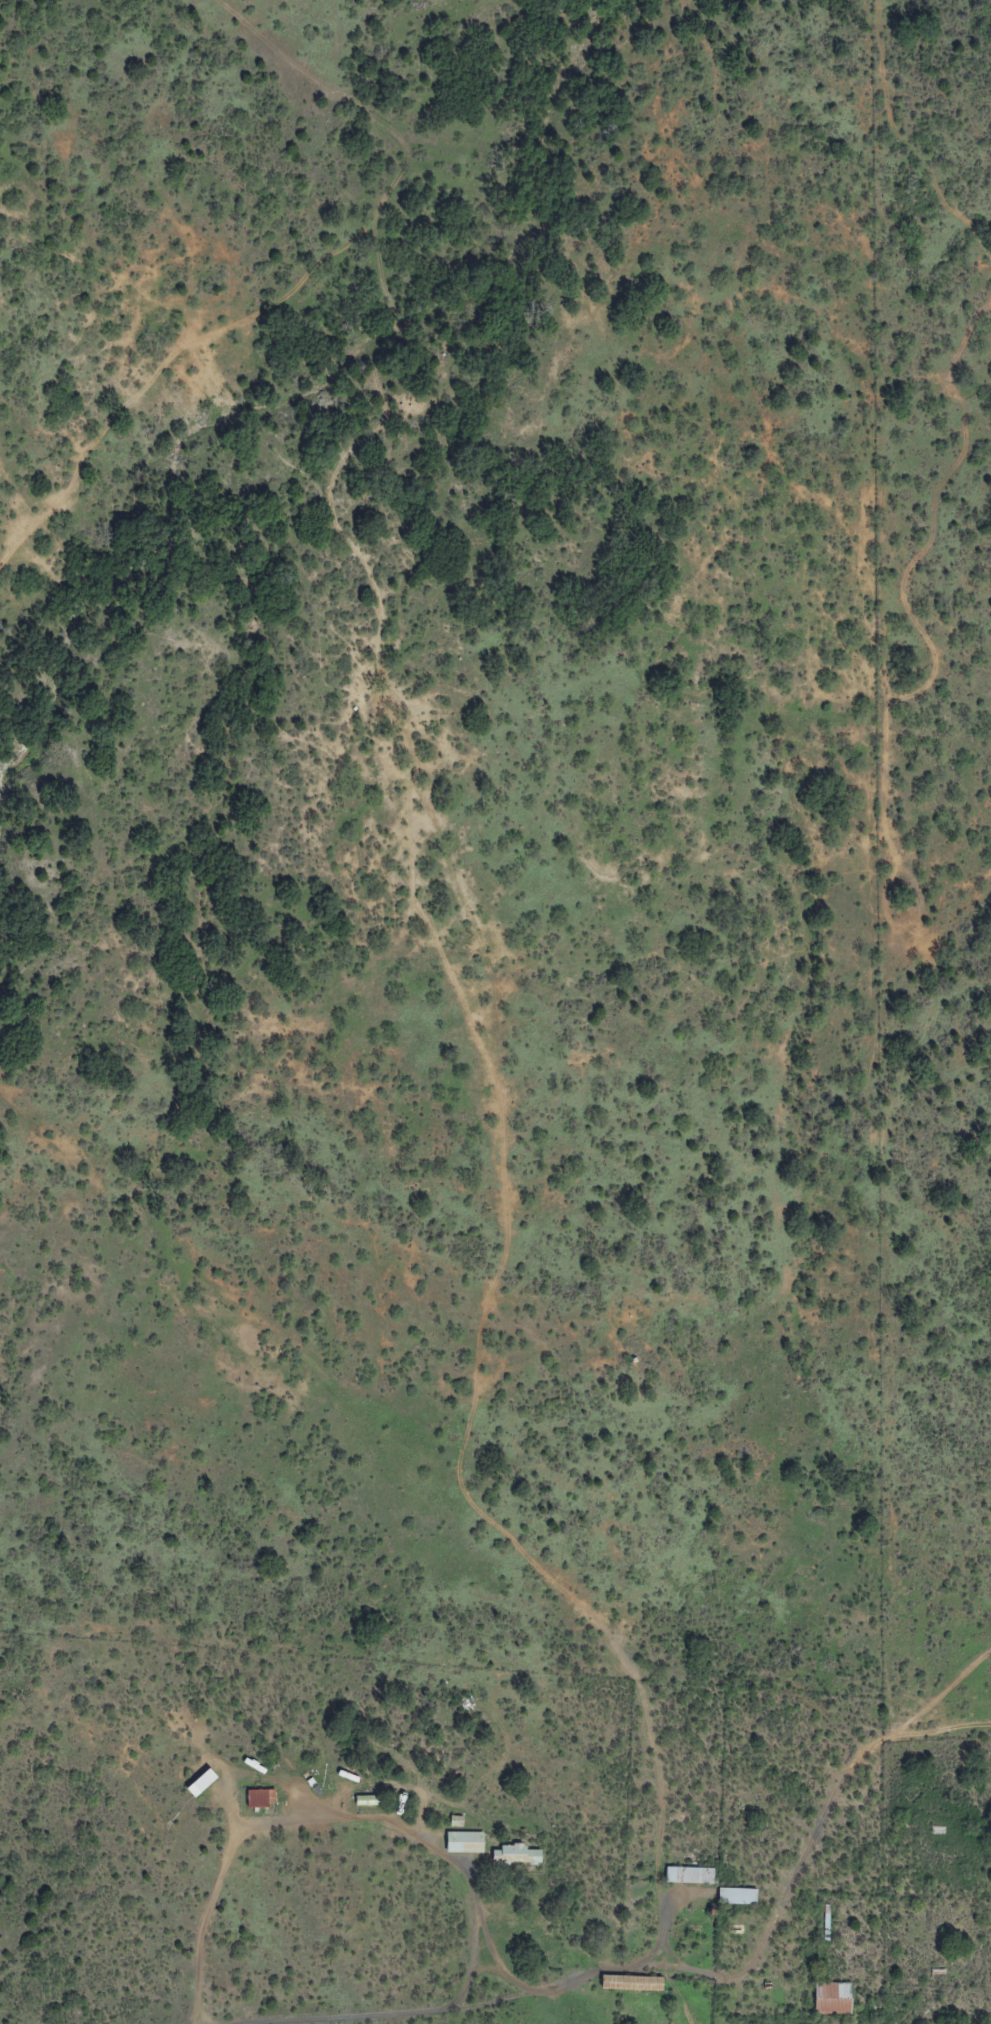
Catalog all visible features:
building: (259, 1798)
building: (463, 1842)
building: (516, 1855)
building: (688, 1875)
building: (736, 1896)
building: (630, 1983)
building: (832, 1998)

